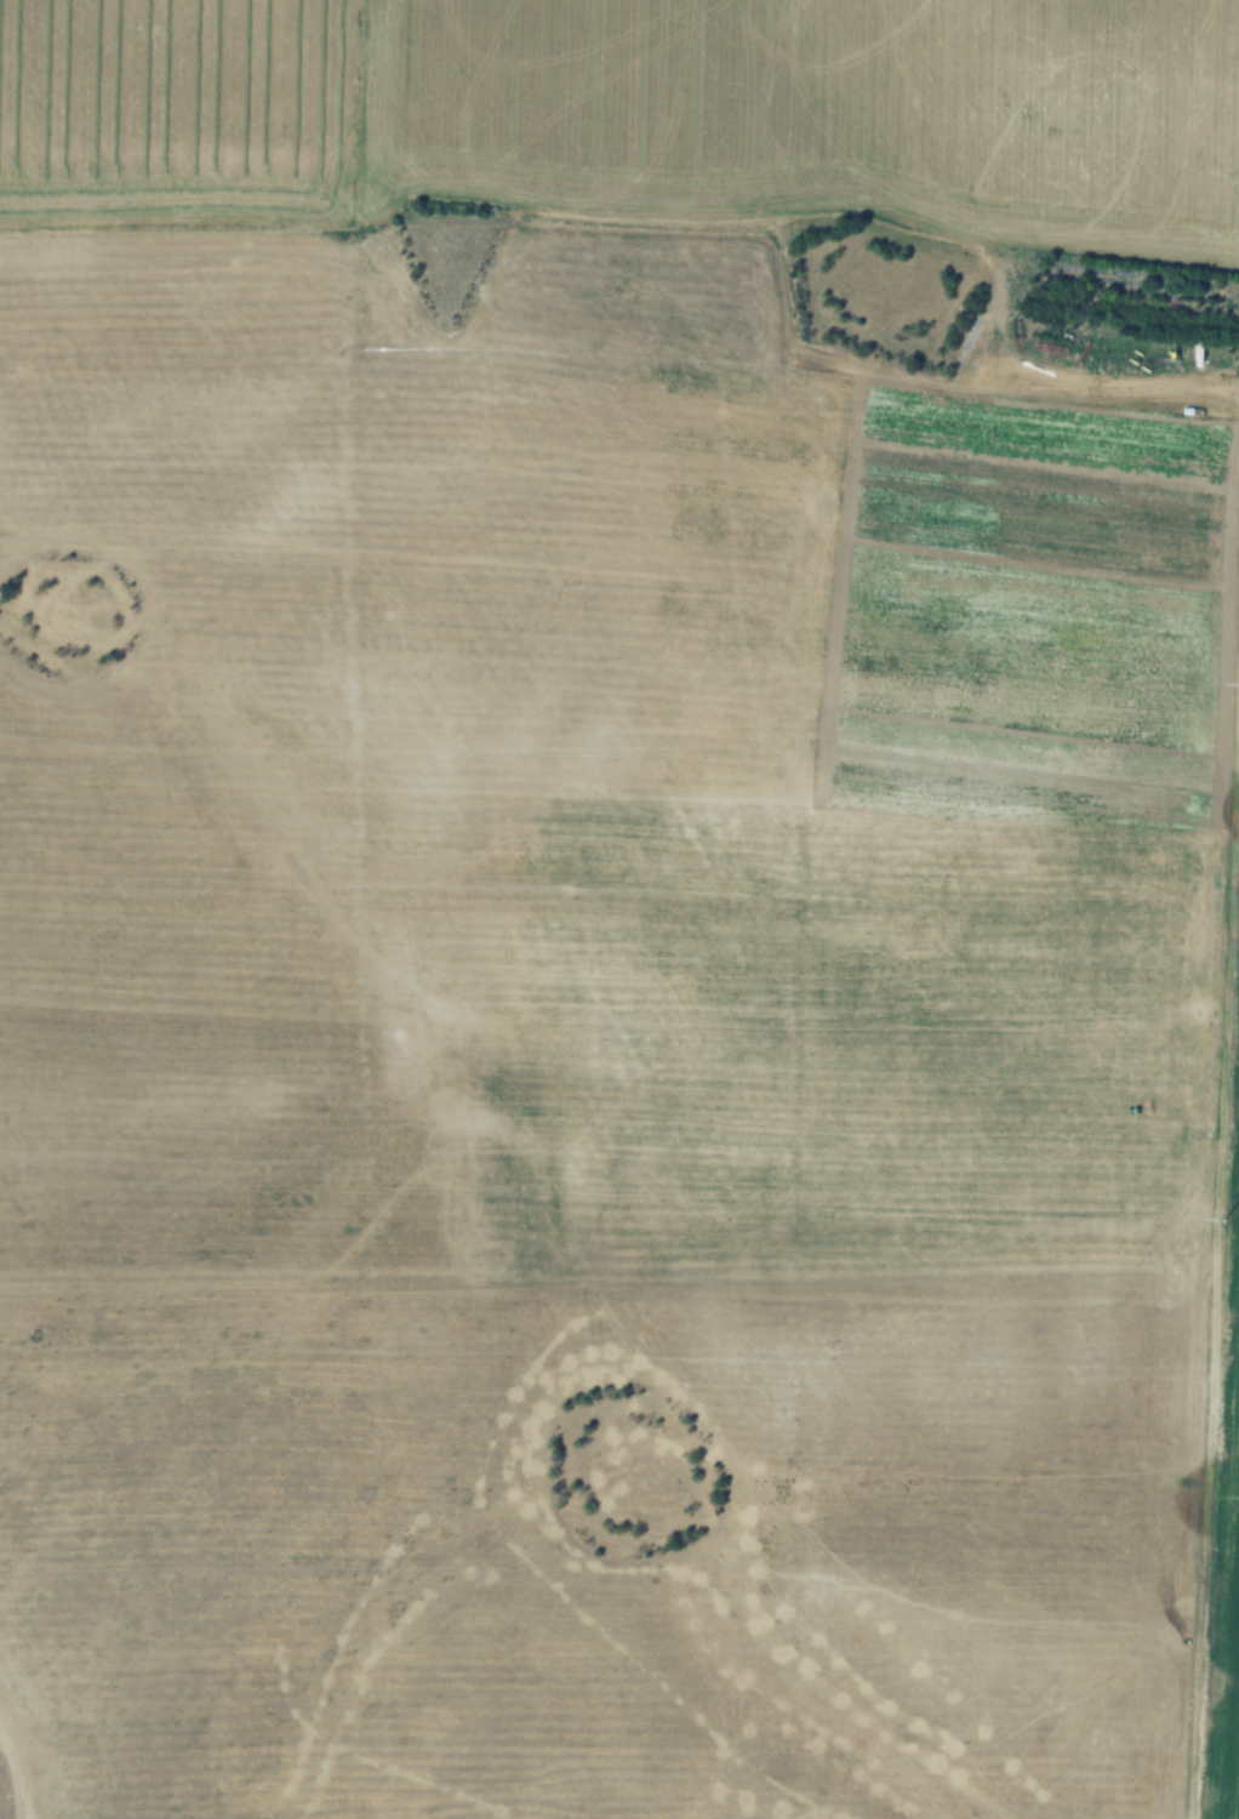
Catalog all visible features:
power tower: (1221, 1211)

